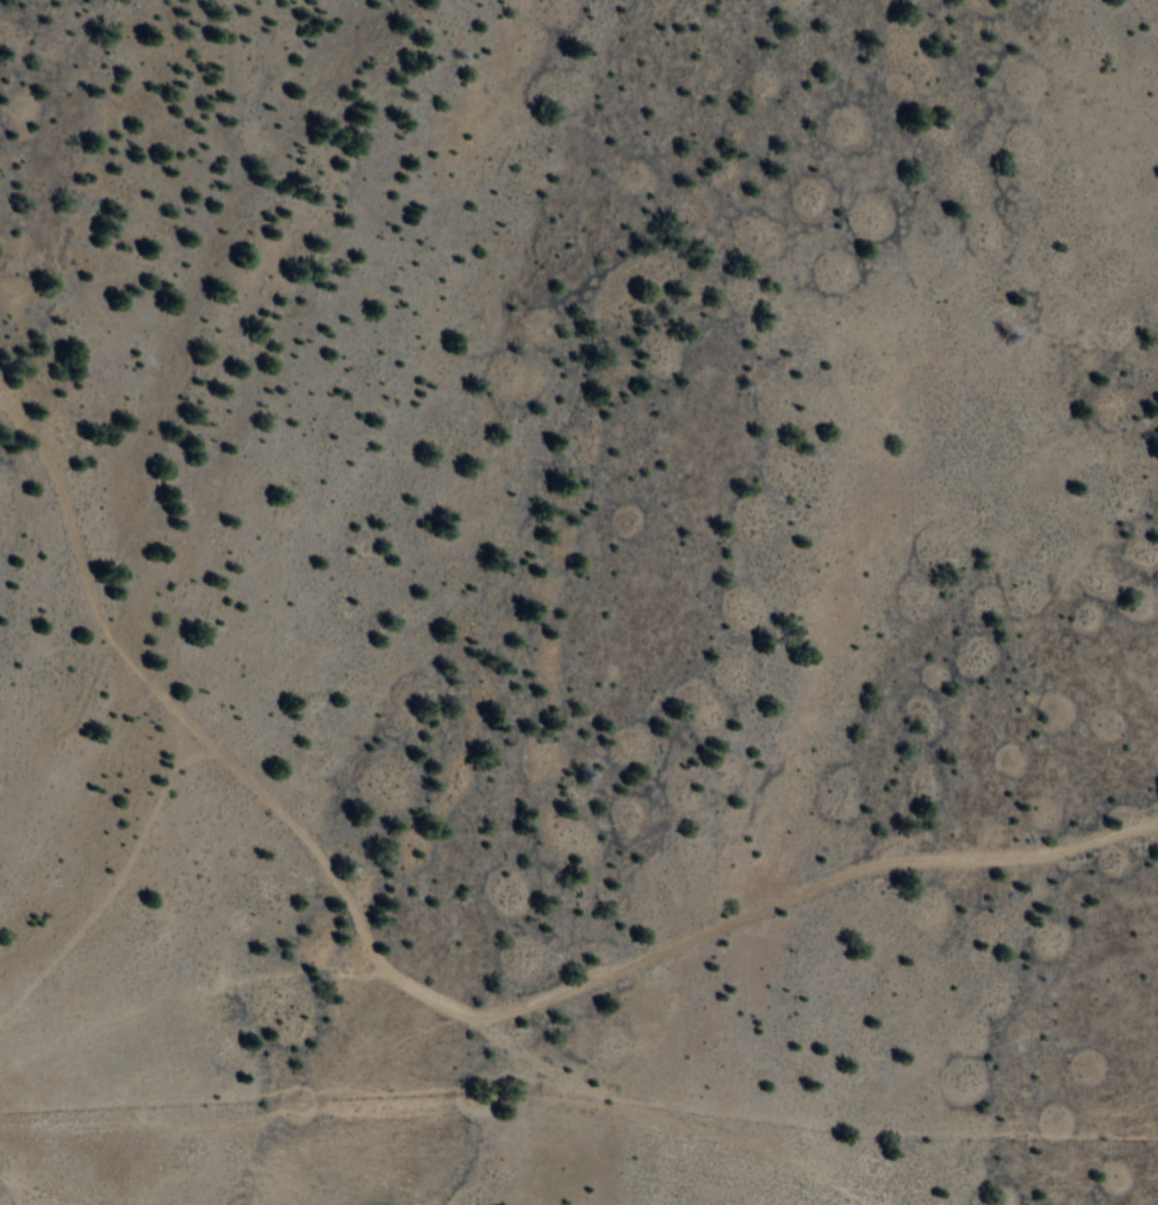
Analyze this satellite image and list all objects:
road: (424, 996)

